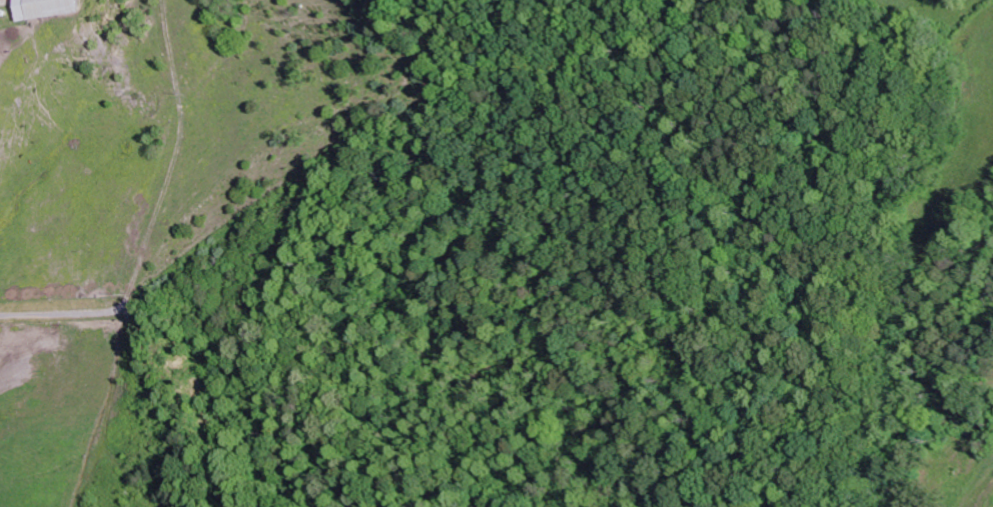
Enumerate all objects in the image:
building: (40, 9)
road: (25, 315)
road: (117, 376)

